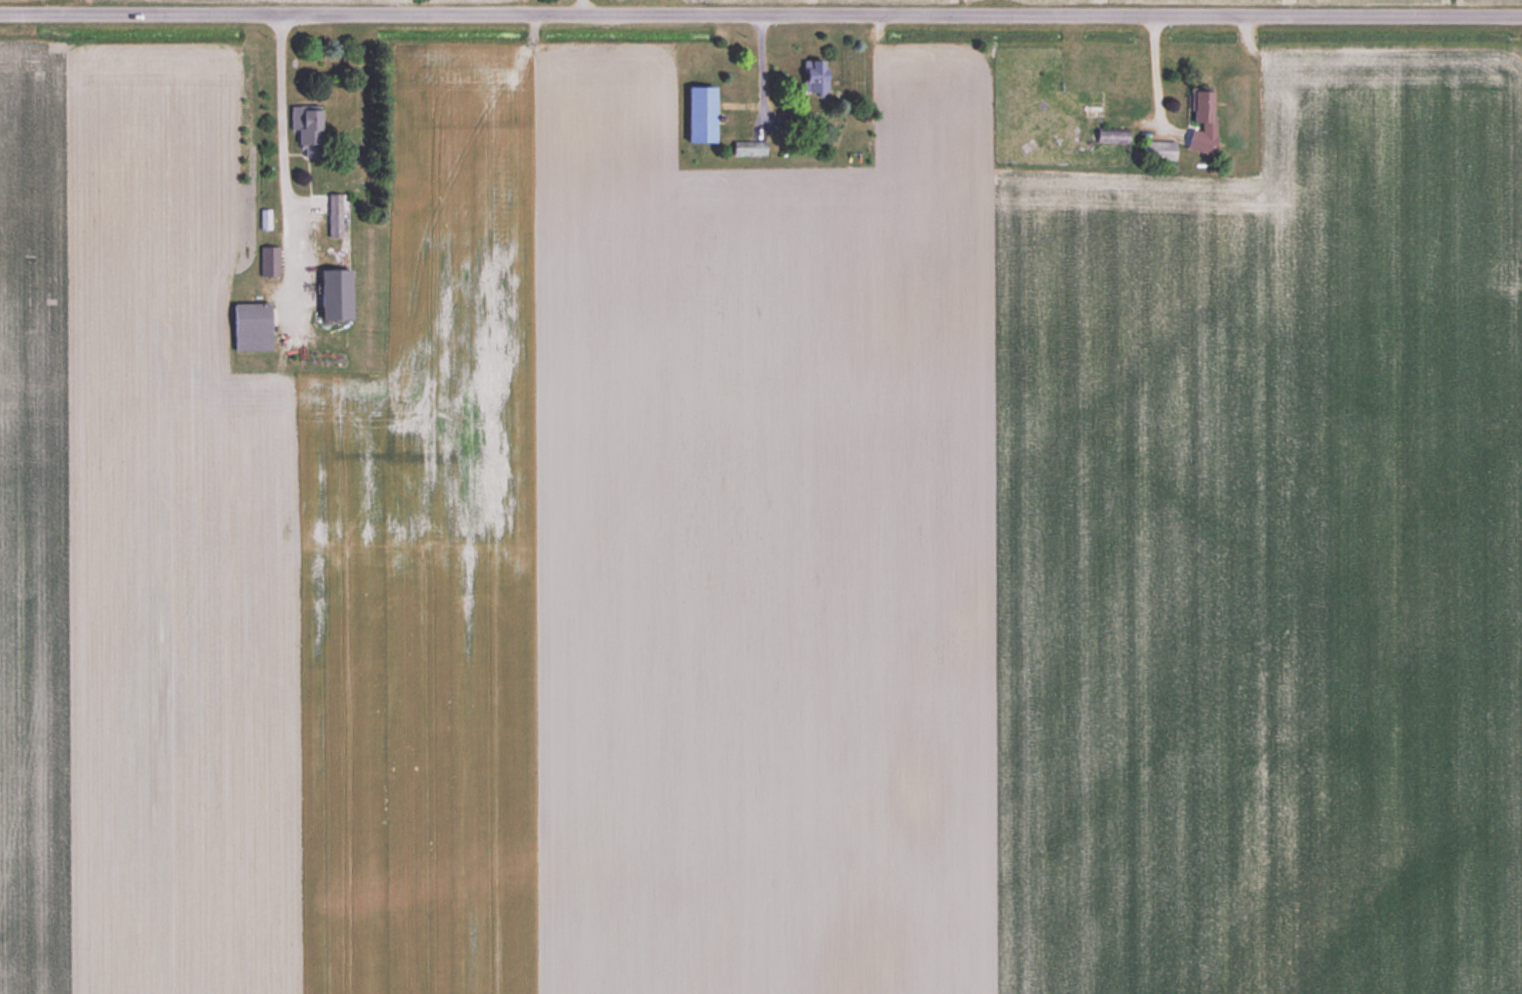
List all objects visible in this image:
road: (761, 13)
building: (812, 77)
road: (280, 87)
building: (699, 115)
building: (1200, 122)
building: (305, 129)
building: (1110, 135)
building: (1157, 150)
building: (268, 261)
building: (333, 295)
building: (249, 326)

